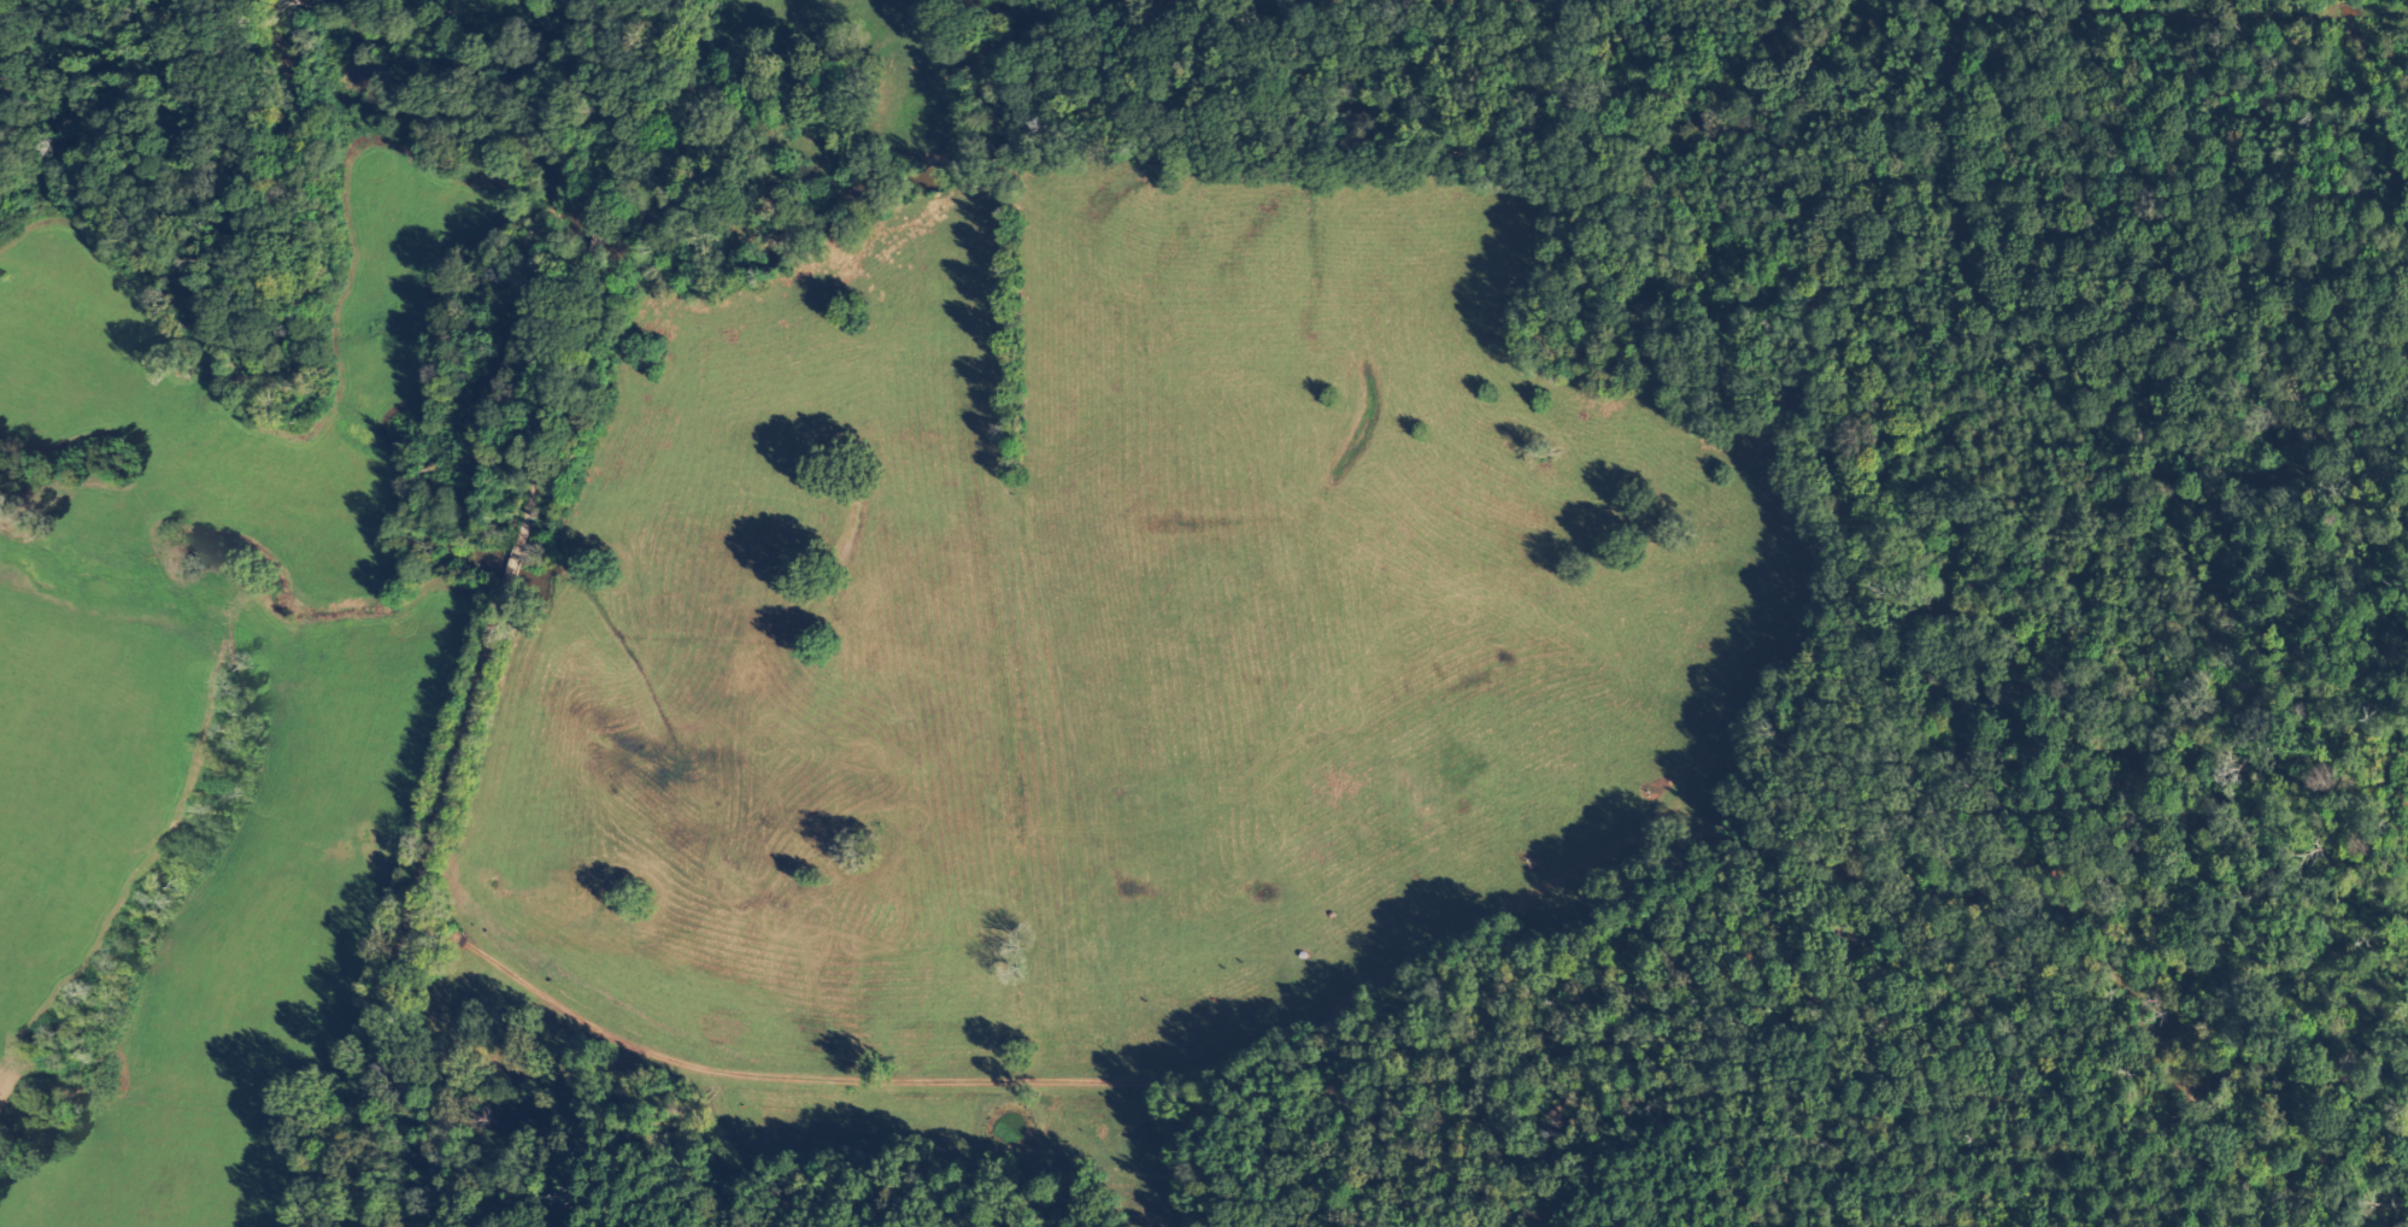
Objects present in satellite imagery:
road: (593, 265)
road: (425, 880)
road: (933, 1085)

